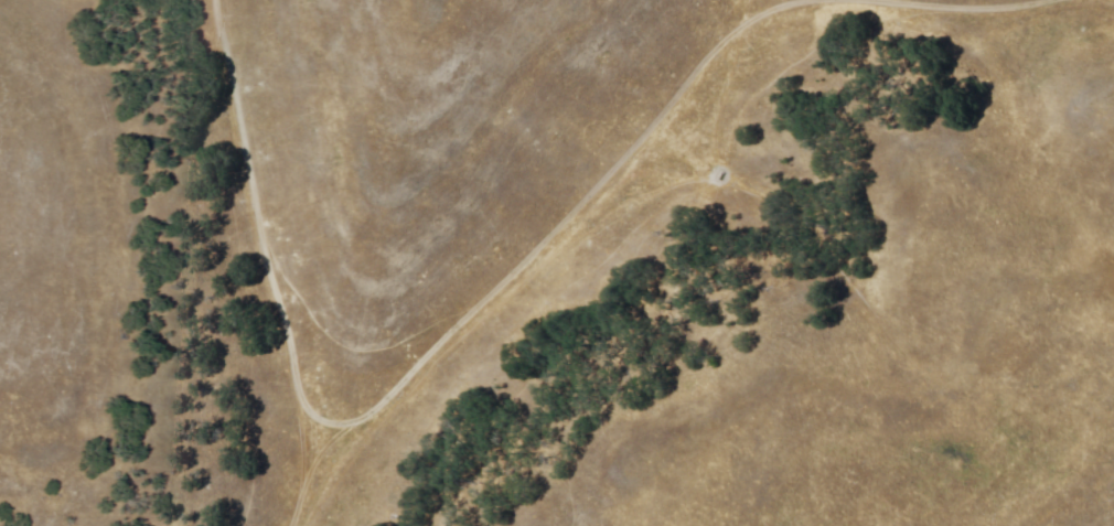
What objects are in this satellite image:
road: (426, 55)

